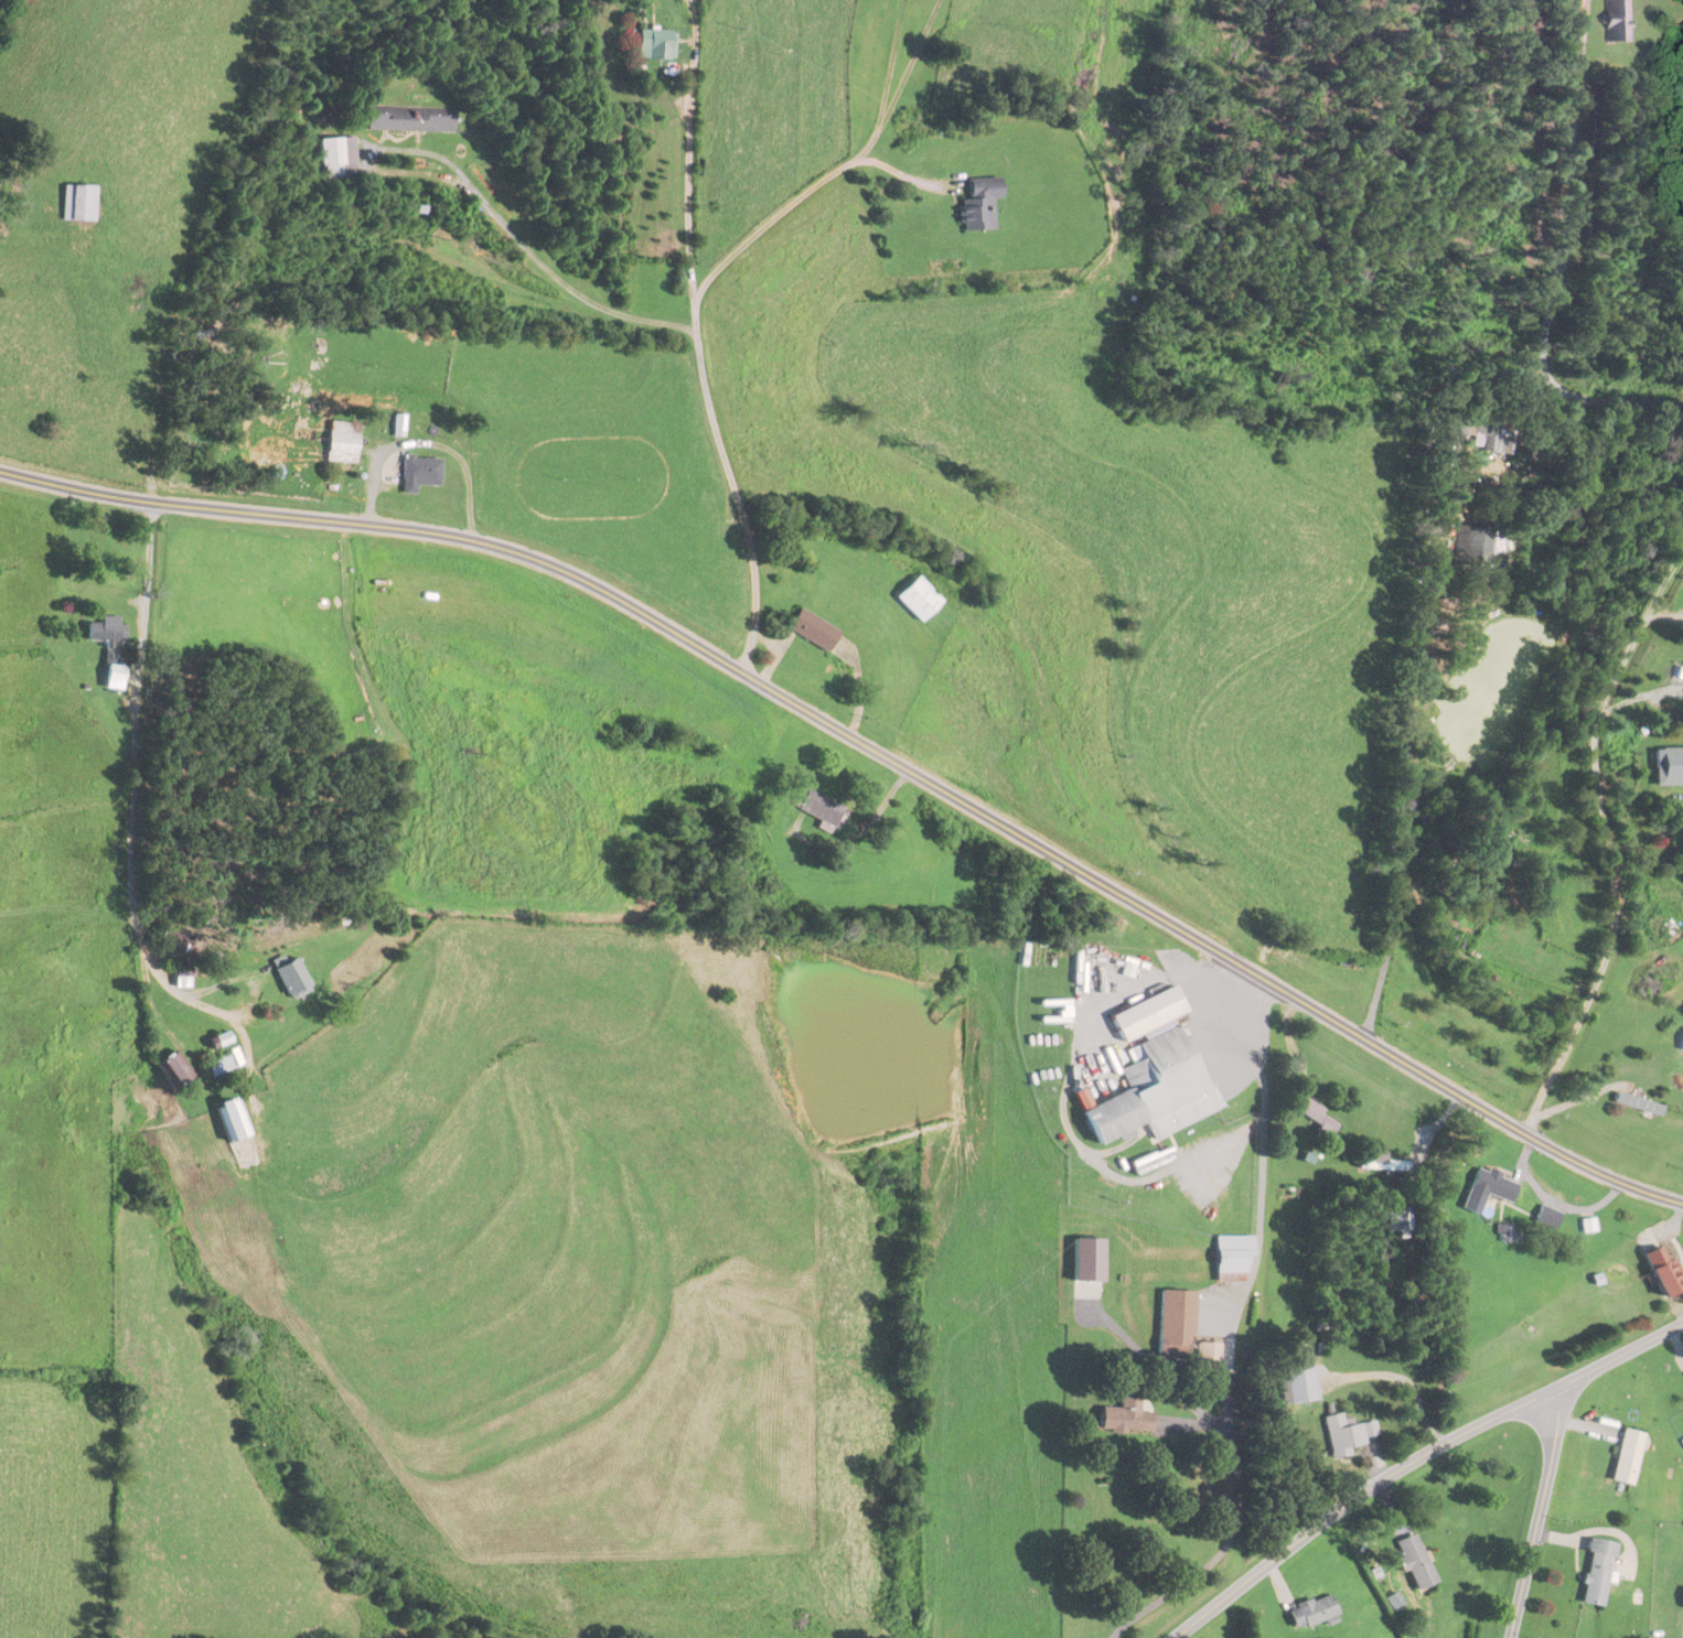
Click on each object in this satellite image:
building: (1616, 21)
building: (656, 44)
building: (410, 119)
road: (689, 153)
building: (337, 158)
building: (78, 203)
building: (979, 204)
road: (540, 262)
road: (1562, 262)
road: (700, 293)
building: (1478, 424)
building: (310, 438)
building: (419, 473)
building: (1476, 548)
building: (919, 599)
building: (812, 629)
building: (111, 649)
building: (1681, 672)
road: (1639, 694)
road: (871, 748)
building: (1674, 768)
road: (133, 793)
building: (823, 815)
road: (1397, 822)
road: (1609, 842)
building: (1128, 973)
road: (1126, 974)
building: (184, 977)
building: (292, 980)
building: (221, 1041)
building: (221, 1066)
building: (174, 1070)
building: (1153, 1075)
building: (1639, 1106)
building: (1315, 1114)
building: (232, 1121)
road: (1263, 1149)
building: (1383, 1166)
building: (1487, 1192)
building: (1548, 1218)
building: (1232, 1259)
building: (1663, 1272)
building: (1175, 1325)
building: (1208, 1365)
building: (1305, 1380)
road: (1404, 1381)
building: (1127, 1413)
building: (1342, 1434)
building: (1627, 1456)
road: (1415, 1459)
road: (1539, 1513)
road: (1230, 1533)
building: (1414, 1561)
building: (1597, 1572)
building: (1311, 1610)

